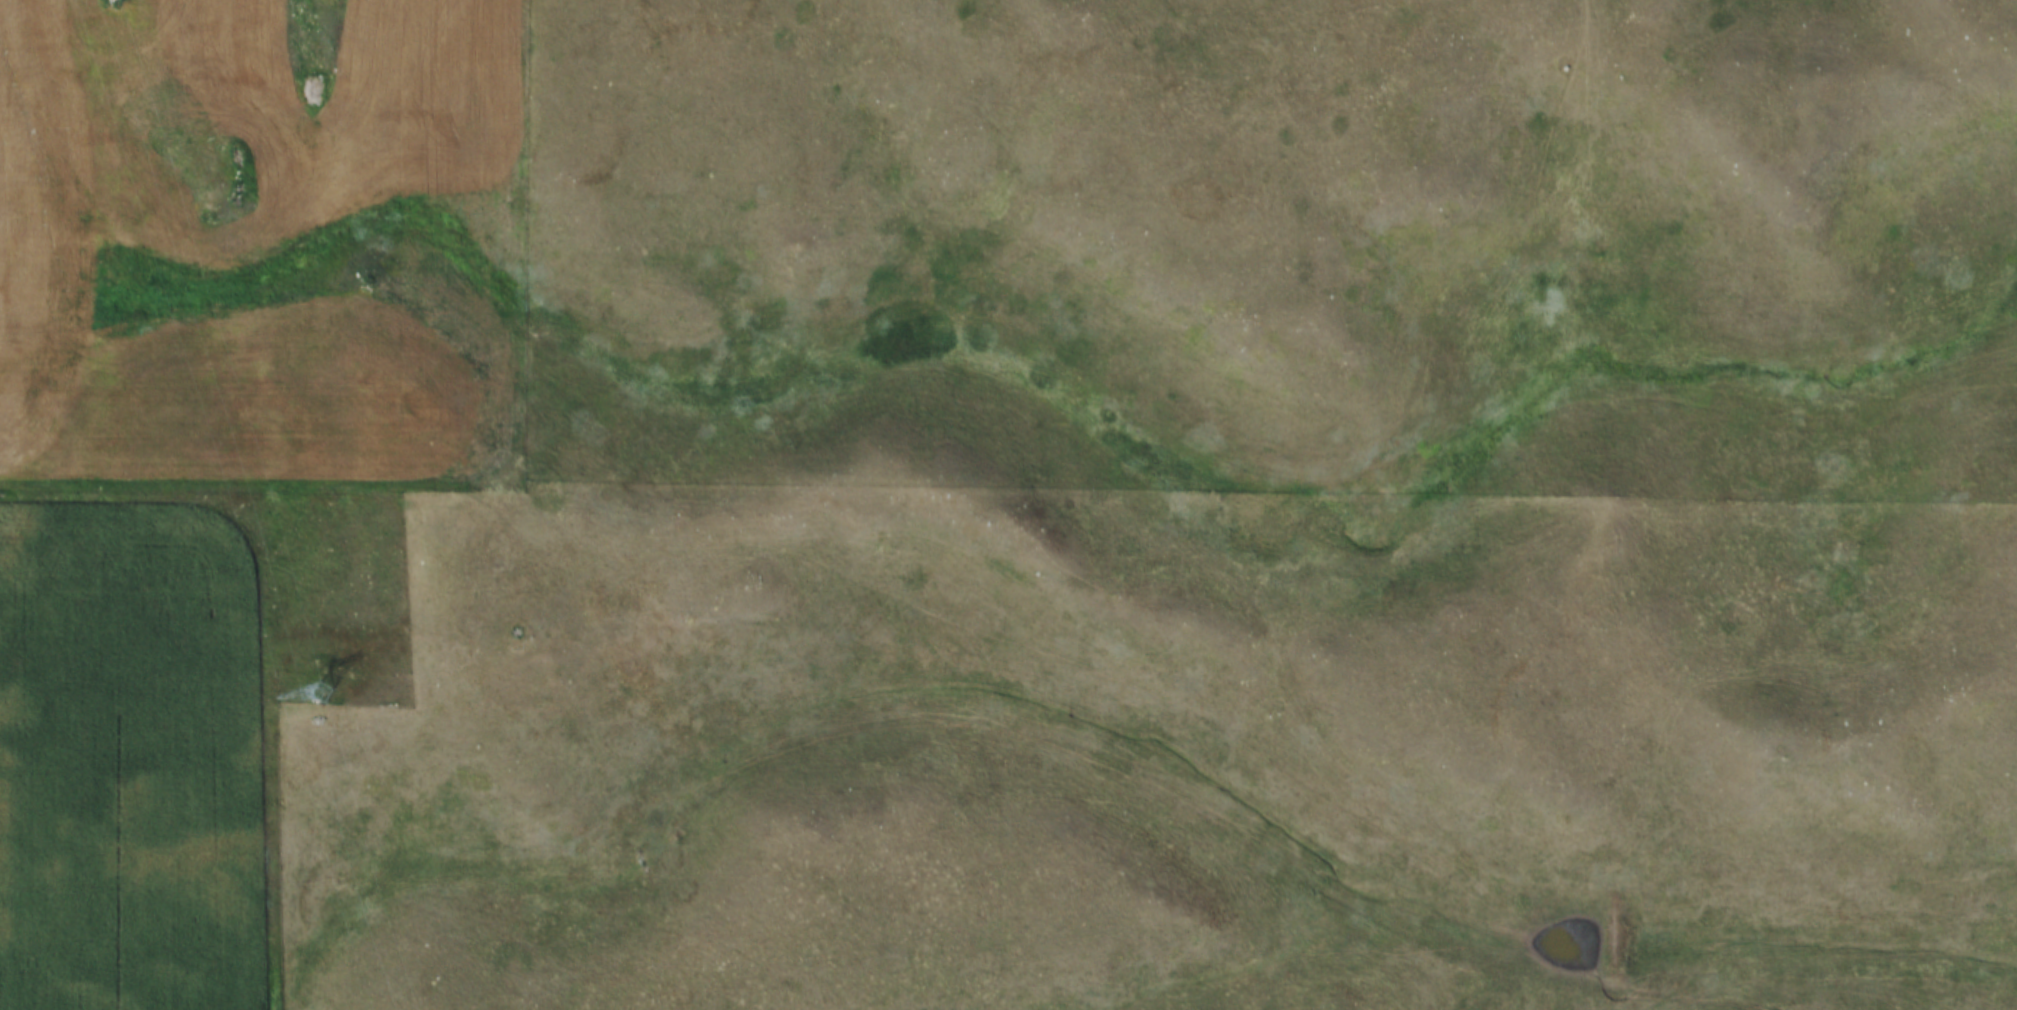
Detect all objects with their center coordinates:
road: (1023, 491)
power tower: (324, 702)

